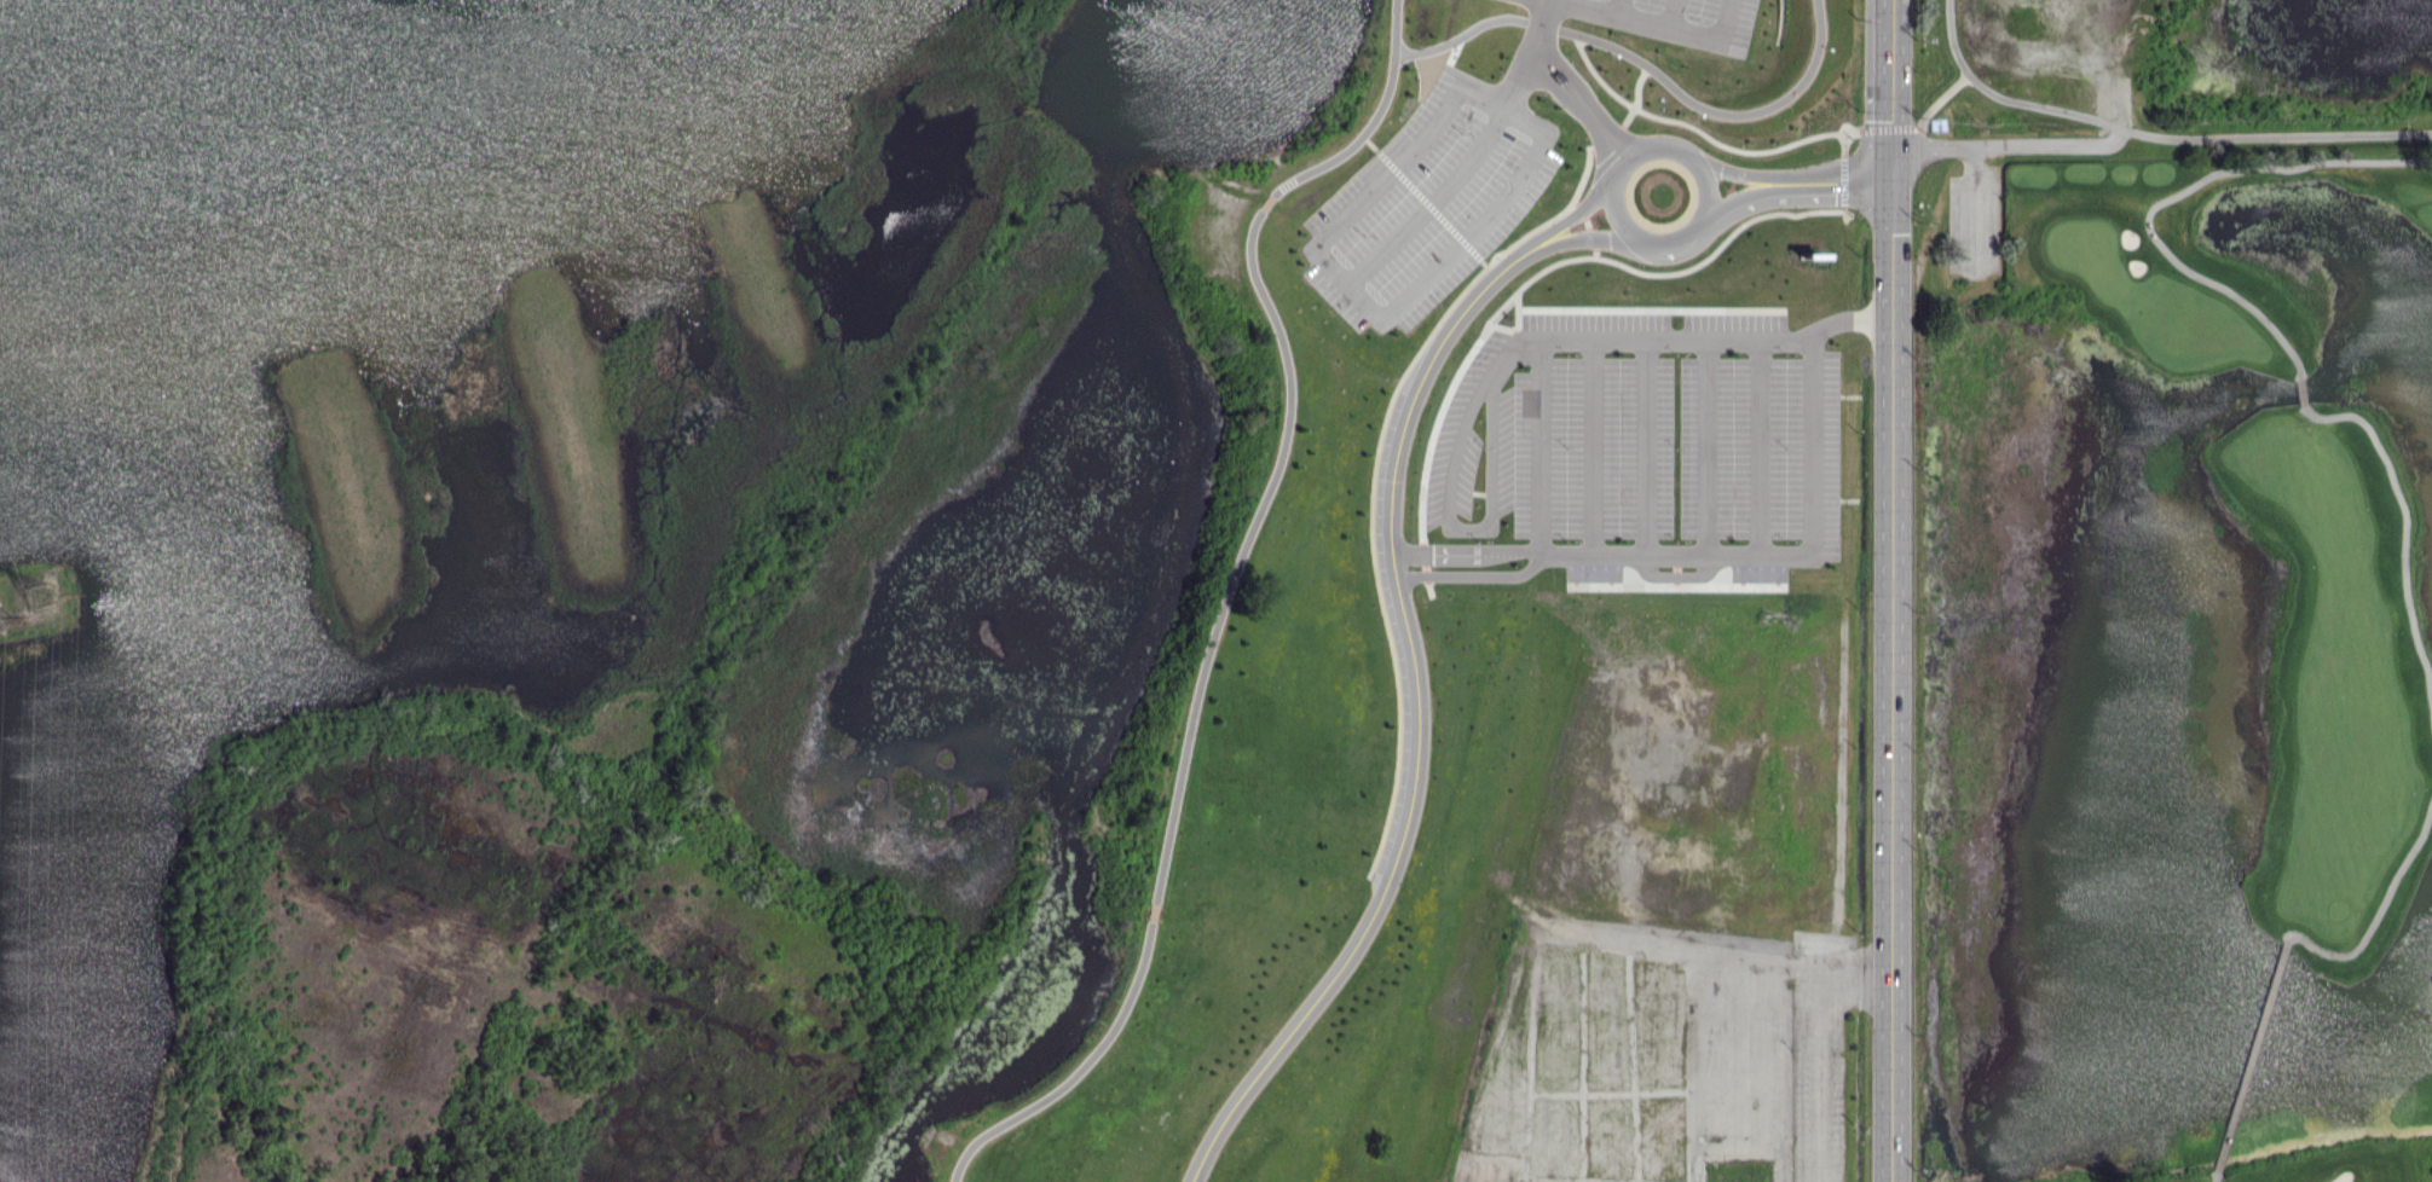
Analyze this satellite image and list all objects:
road: (1397, 28)
road: (1642, 64)
road: (1553, 70)
road: (1966, 71)
road: (2043, 105)
road: (1881, 127)
road: (1693, 129)
road: (1619, 131)
road: (2222, 139)
road: (1958, 146)
road: (1599, 147)
traffic signals: (1895, 149)
road: (1735, 170)
road: (1838, 182)
traffic signals: (1895, 182)
road: (2178, 193)
road: (1740, 201)
road: (1569, 216)
road: (1693, 230)
road: (1583, 236)
park: (1548, 313)
road: (2300, 387)
road: (2401, 539)
road: (1466, 551)
road: (1585, 555)
road: (1471, 575)
road: (1894, 591)
power tower: (35, 601)
road: (1218, 622)
park: (2172, 666)
road: (1417, 725)
road: (2376, 906)
road: (2249, 1055)
road: (2212, 1177)

